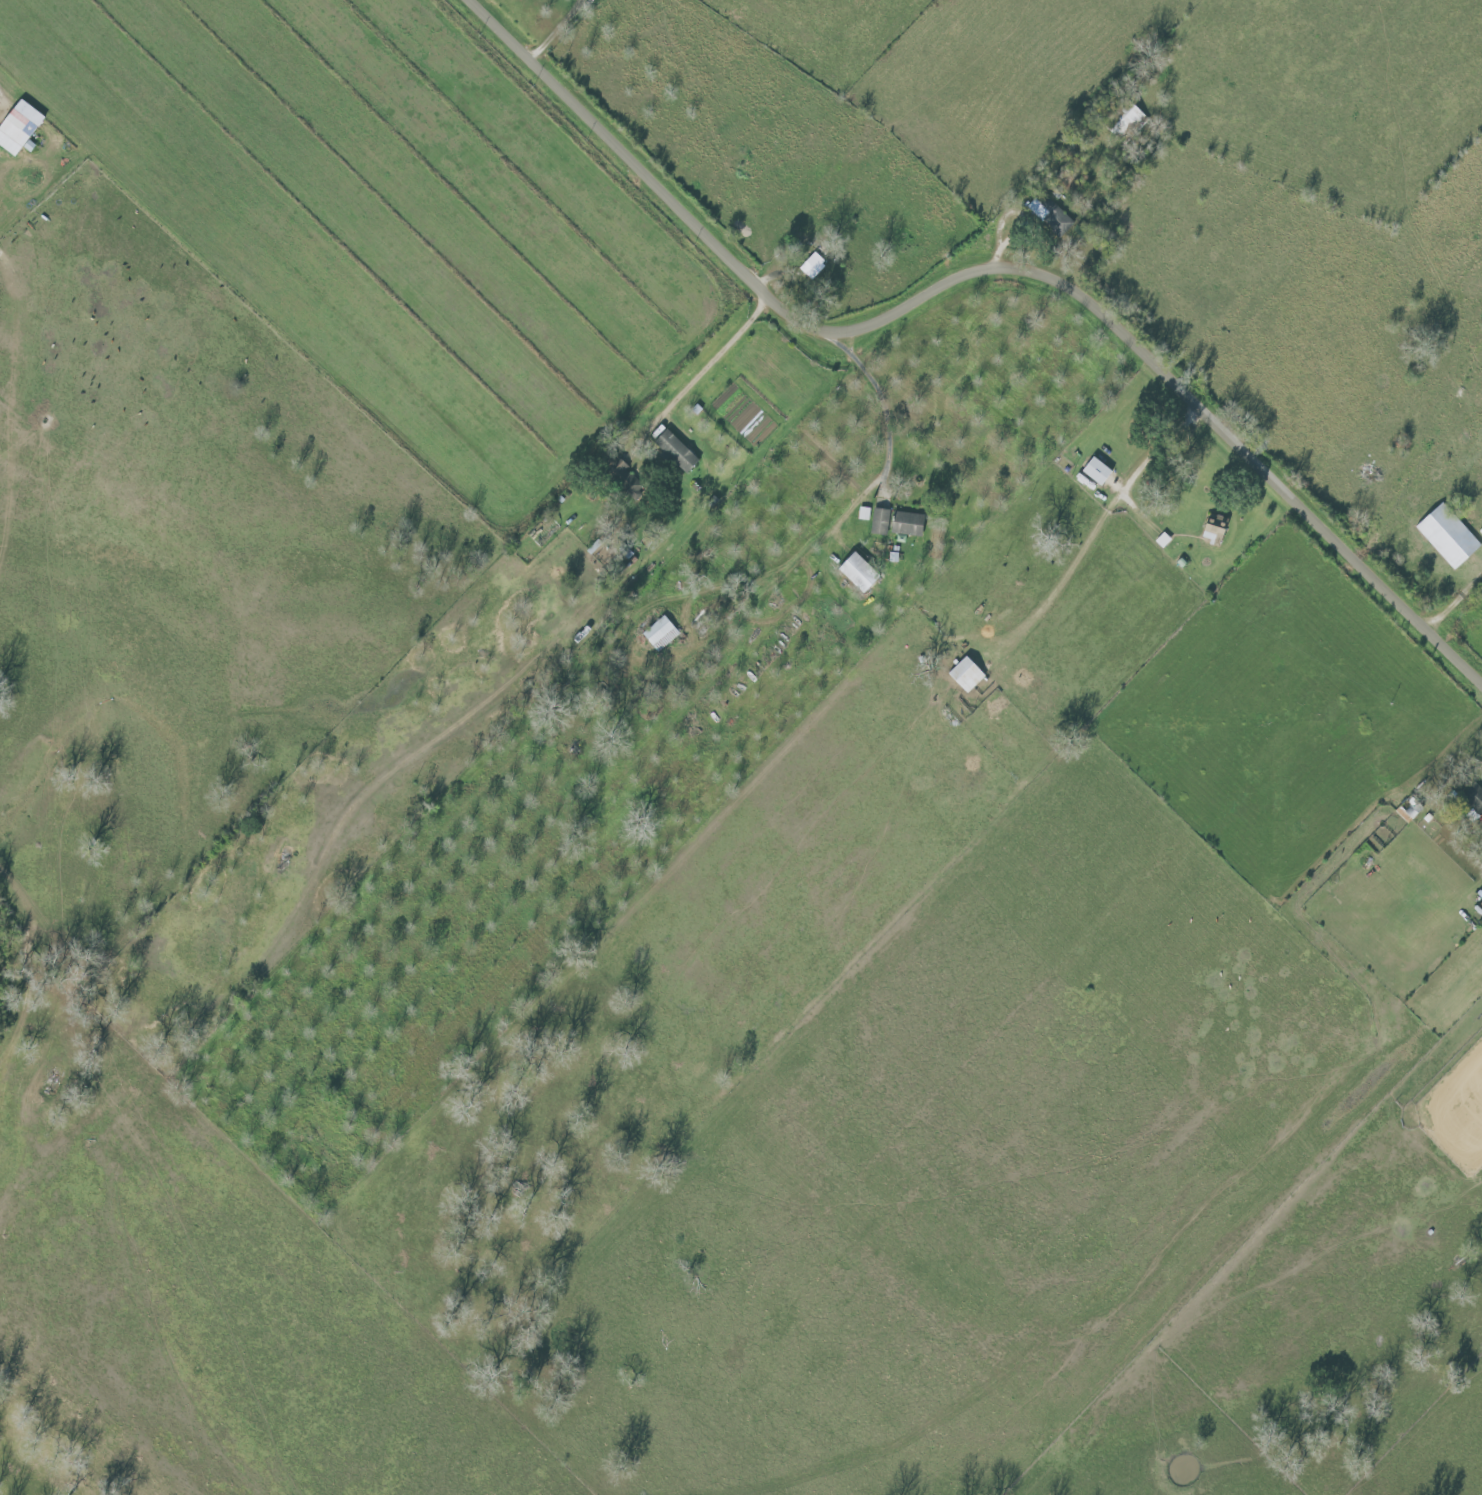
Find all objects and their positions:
building: (1128, 121)
building: (18, 126)
building: (815, 266)
road: (984, 274)
road: (699, 387)
building: (680, 452)
building: (1099, 472)
building: (622, 475)
road: (884, 481)
building: (882, 522)
building: (910, 524)
building: (546, 530)
building: (1218, 531)
building: (1450, 538)
building: (862, 573)
road: (1454, 605)
building: (969, 675)
building: (1475, 798)
building: (1412, 809)

